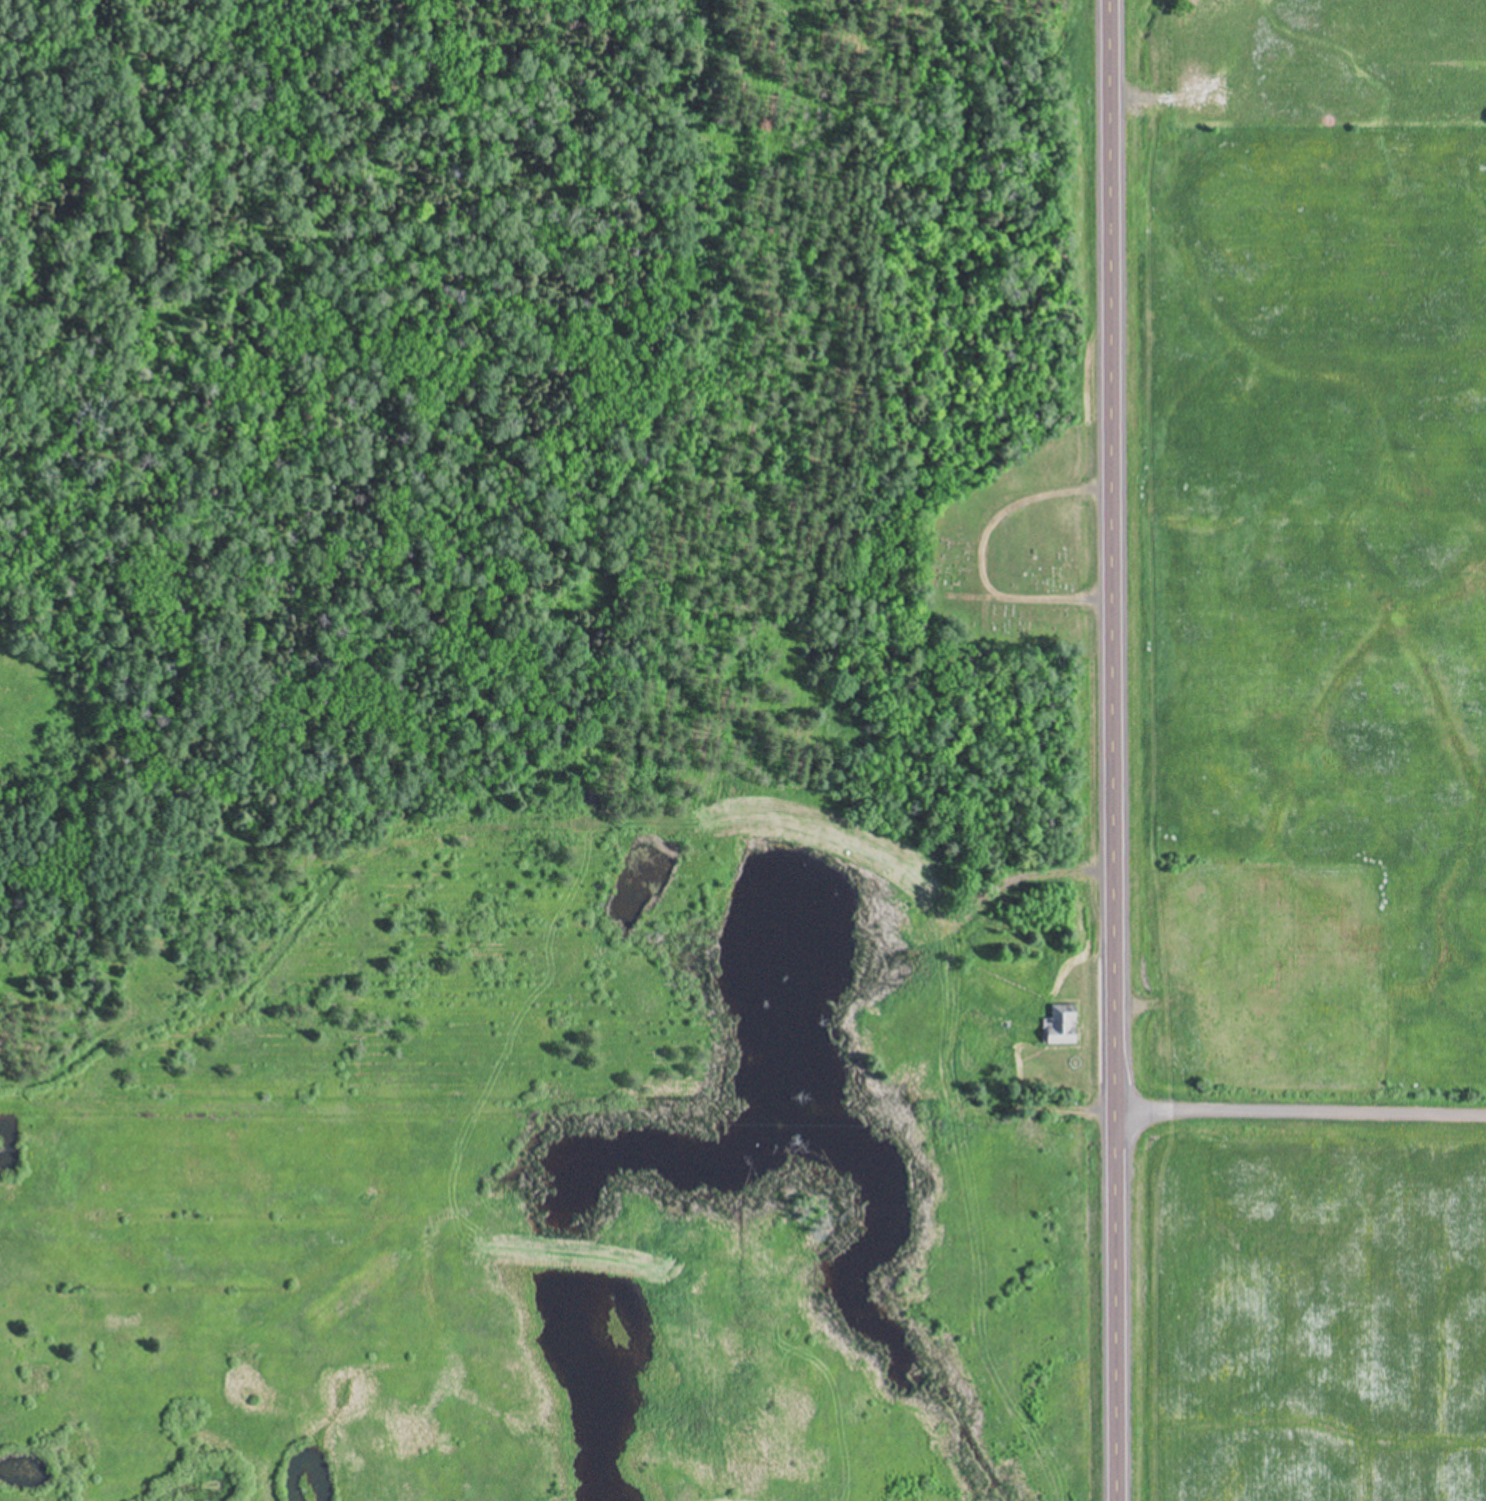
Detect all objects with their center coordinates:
park: (966, 536)
road: (1112, 750)
building: (1060, 1026)
road: (1071, 1111)
road: (1300, 1114)

